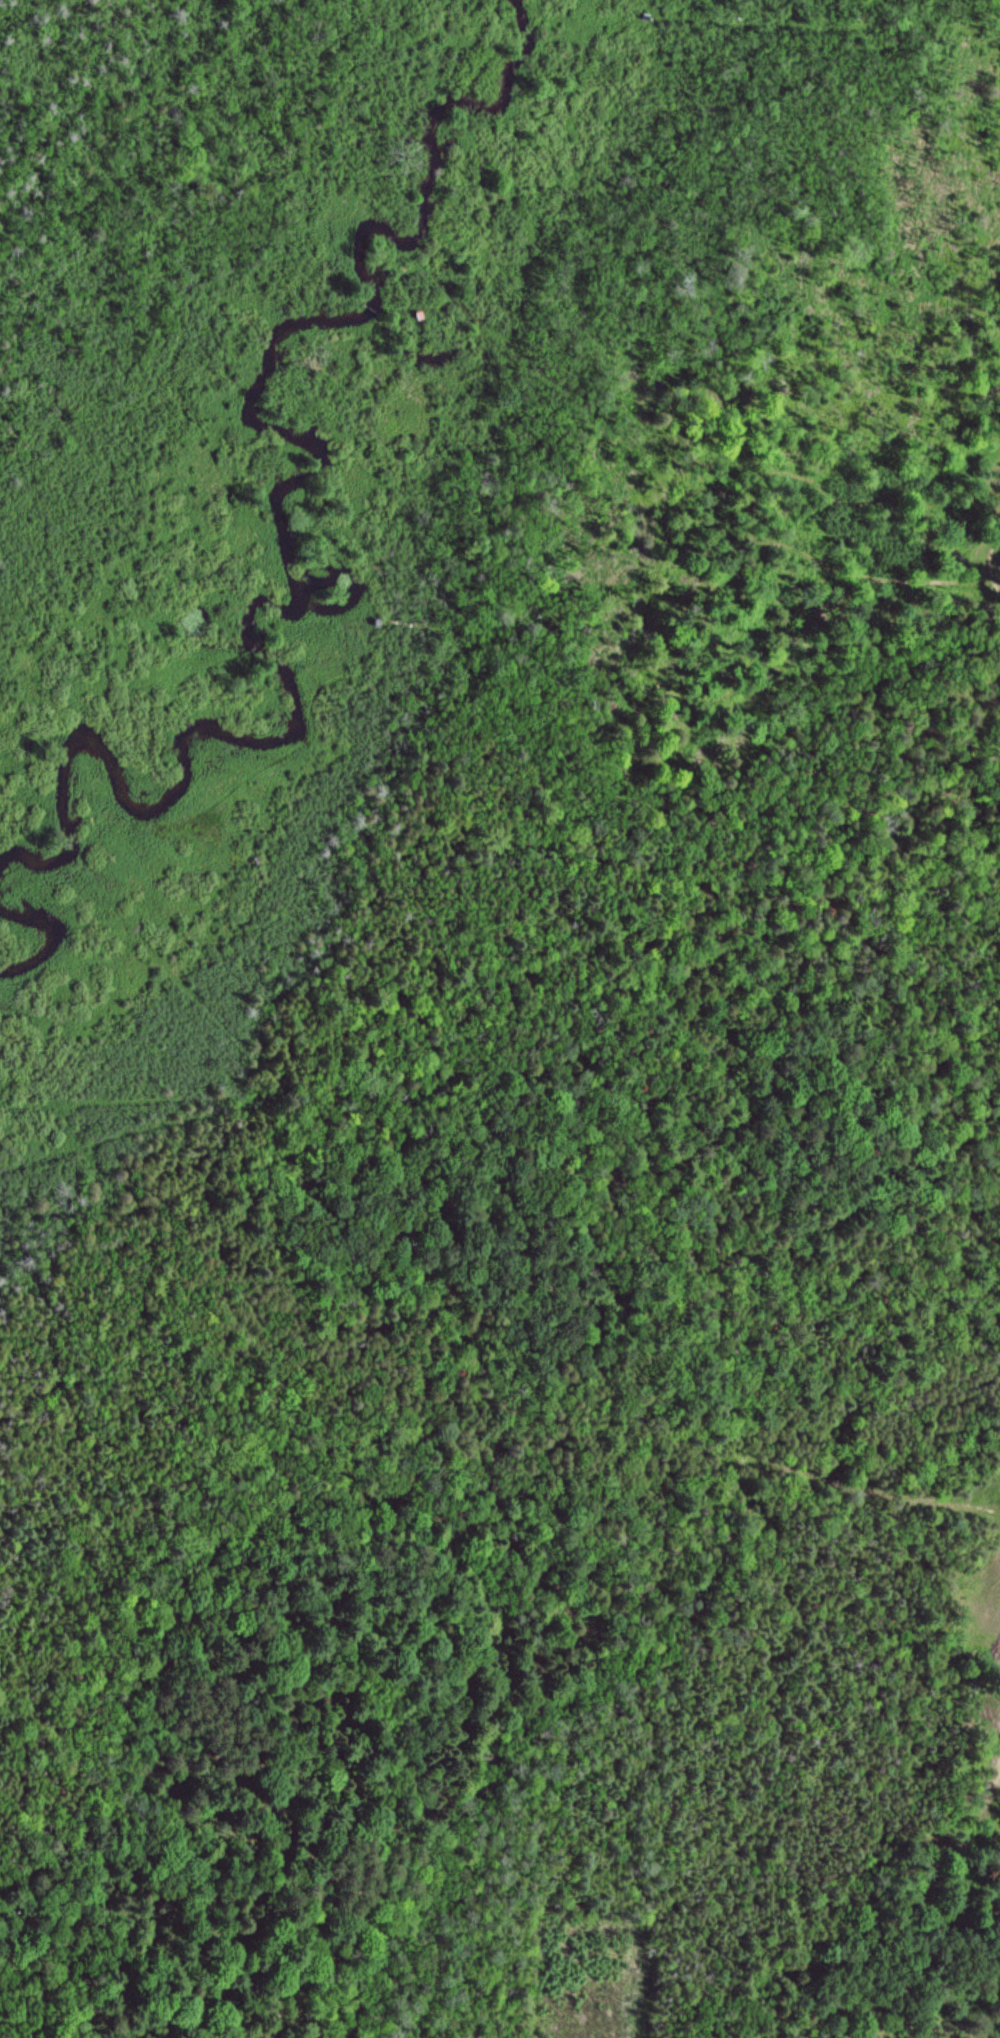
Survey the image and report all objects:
river: (305, 589)

